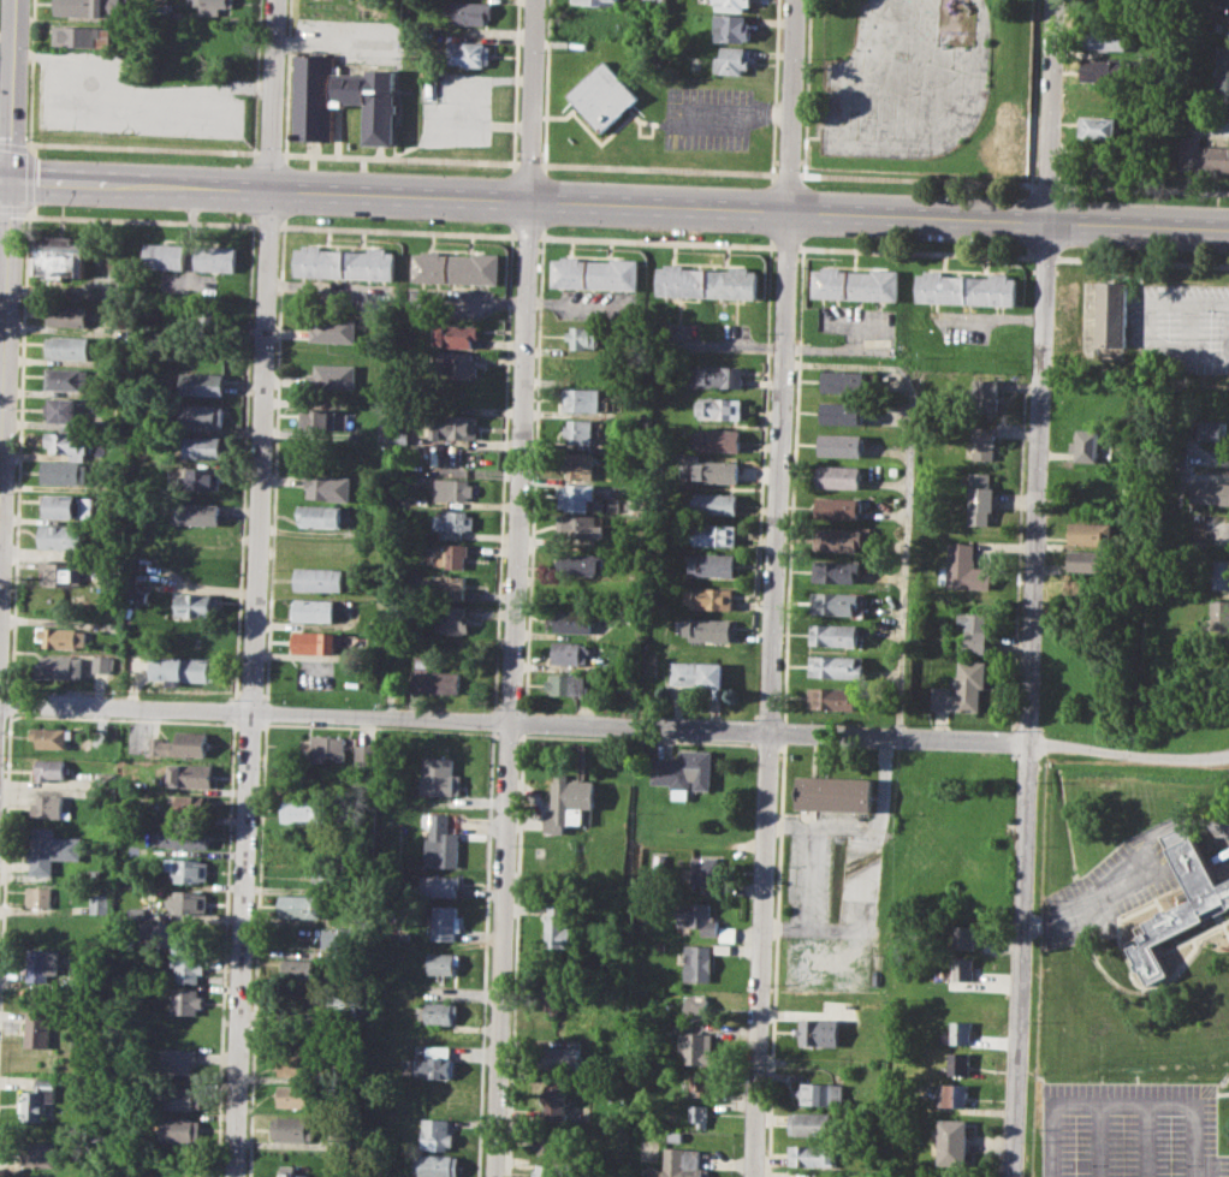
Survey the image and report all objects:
building: (600, 2)
building: (654, 2)
building: (1223, 2)
building: (732, 5)
building: (214, 6)
building: (90, 7)
building: (469, 11)
building: (1110, 13)
building: (731, 28)
building: (83, 36)
parking lot: (351, 38)
building: (1106, 40)
road: (336, 42)
building: (469, 52)
building: (731, 60)
building: (1105, 69)
building: (1222, 78)
road: (130, 91)
building: (604, 95)
building: (1102, 96)
parking lot: (130, 99)
building: (340, 99)
parking lot: (456, 108)
road: (1050, 112)
road: (742, 113)
parking lot: (708, 118)
road: (481, 124)
building: (1099, 127)
street lamp: (29, 131)
street lamp: (281, 145)
road: (13, 147)
road: (30, 148)
road: (142, 148)
road: (269, 153)
building: (1201, 154)
street lamp: (55, 156)
road: (400, 159)
street lamp: (540, 160)
street lamp: (228, 162)
road: (530, 165)
street lamp: (396, 168)
road: (659, 170)
street lamp: (800, 170)
road: (788, 174)
street lamp: (556, 176)
road: (29, 180)
road: (918, 180)
traffic signals: (10, 182)
street lamp: (705, 182)
street lamp: (813, 186)
road: (1047, 186)
road: (1145, 189)
street lamp: (955, 194)
street lamp: (1076, 196)
road: (523, 201)
street lamp: (53, 206)
street lamp: (226, 212)
road: (138, 219)
street lamp: (392, 219)
street lamp: (23, 225)
road: (267, 225)
street lamp: (553, 226)
road: (1138, 227)
road: (397, 230)
street lamp: (285, 232)
street lamp: (703, 232)
road: (527, 234)
street lamp: (814, 237)
road: (655, 240)
street lamp: (954, 244)
street lamp: (538, 245)
road: (784, 246)
street lamp: (1075, 249)
road: (914, 251)
building: (164, 255)
road: (1043, 256)
building: (60, 257)
building: (214, 257)
road: (1141, 260)
building: (343, 262)
road: (7, 264)
street lamp: (1056, 264)
building: (455, 267)
street lamp: (796, 267)
building: (594, 273)
building: (706, 281)
building: (853, 284)
building: (966, 289)
building: (1110, 313)
road: (1188, 313)
building: (67, 315)
building: (208, 321)
building: (334, 328)
parking lot: (1177, 328)
building: (455, 334)
building: (589, 337)
building: (69, 346)
building: (452, 364)
building: (334, 375)
building: (714, 375)
building: (67, 378)
building: (843, 380)
building: (204, 384)
building: (986, 394)
building: (580, 399)
building: (718, 409)
building: (65, 410)
building: (839, 412)
building: (202, 416)
building: (326, 420)
building: (453, 426)
building: (382, 429)
building: (1212, 429)
building: (577, 430)
building: (398, 438)
building: (716, 439)
building: (984, 442)
building: (70, 444)
building: (839, 445)
building: (1085, 445)
building: (201, 446)
road: (19, 452)
building: (578, 464)
building: (706, 469)
building: (70, 472)
building: (839, 476)
building: (202, 477)
building: (327, 486)
building: (452, 489)
road: (908, 492)
building: (1209, 492)
building: (574, 497)
building: (980, 498)
building: (714, 503)
building: (65, 506)
building: (837, 507)
building: (198, 513)
building: (319, 516)
building: (452, 522)
building: (580, 527)
road: (319, 531)
building: (1090, 534)
building: (714, 535)
building: (61, 536)
building: (838, 539)
building: (450, 557)
building: (1087, 561)
building: (581, 563)
building: (713, 563)
building: (963, 569)
building: (836, 570)
building: (60, 572)
building: (1221, 573)
building: (320, 579)
building: (452, 587)
road: (255, 588)
road: (513, 588)
road: (773, 588)
building: (711, 598)
building: (835, 601)
building: (197, 604)
building: (314, 610)
building: (1216, 614)
building: (452, 620)
building: (574, 620)
building: (708, 629)
building: (975, 631)
building: (835, 634)
building: (63, 637)
building: (315, 641)
building: (569, 653)
building: (103, 664)
building: (60, 666)
building: (837, 666)
building: (184, 668)
building: (697, 673)
building: (432, 677)
building: (566, 683)
building: (962, 688)
building: (833, 697)
road: (11, 701)
road: (1031, 701)
road: (614, 724)
building: (49, 736)
building: (180, 743)
building: (326, 747)
building: (366, 754)
building: (49, 768)
building: (684, 771)
building: (194, 775)
building: (438, 775)
building: (334, 779)
building: (833, 793)
building: (568, 802)
building: (192, 803)
building: (51, 807)
road: (538, 807)
building: (298, 810)
road: (878, 819)
building: (186, 837)
building: (440, 840)
building: (53, 849)
road: (1223, 850)
road: (811, 852)
building: (659, 860)
building: (188, 868)
building: (706, 869)
road: (5, 870)
building: (325, 874)
road: (865, 882)
building: (439, 885)
parking lot: (1112, 887)
building: (42, 896)
road: (1090, 898)
building: (189, 902)
parking lot: (833, 902)
building: (1206, 902)
building: (100, 903)
building: (302, 905)
building: (138, 913)
building: (705, 921)
building: (444, 922)
road: (1222, 926)
building: (558, 927)
building: (159, 934)
building: (403, 934)
building: (968, 935)
building: (338, 939)
road: (1172, 946)
road: (865, 950)
building: (697, 962)
building: (443, 963)
building: (44, 965)
building: (189, 969)
building: (298, 969)
building: (967, 969)
road: (1132, 983)
building: (548, 1000)
building: (188, 1001)
building: (701, 1009)
building: (438, 1011)
building: (37, 1029)
building: (960, 1032)
building: (819, 1033)
building: (696, 1047)
building: (559, 1058)
building: (177, 1062)
building: (293, 1063)
building: (434, 1063)
building: (958, 1063)
building: (699, 1083)
building: (821, 1092)
road: (1222, 1093)
building: (955, 1095)
building: (183, 1096)
building: (295, 1096)
building: (40, 1099)
building: (552, 1102)
road: (1121, 1104)
building: (697, 1114)
building: (809, 1123)
building: (292, 1128)
building: (183, 1129)
parking lot: (1129, 1130)
building: (435, 1134)
building: (675, 1135)
road: (1047, 1140)
road: (1097, 1140)
building: (550, 1141)
road: (1144, 1141)
road: (1194, 1141)
building: (954, 1142)
building: (37, 1154)
building: (813, 1155)
building: (683, 1163)
building: (435, 1165)
building: (545, 1170)
building: (291, 1171)

